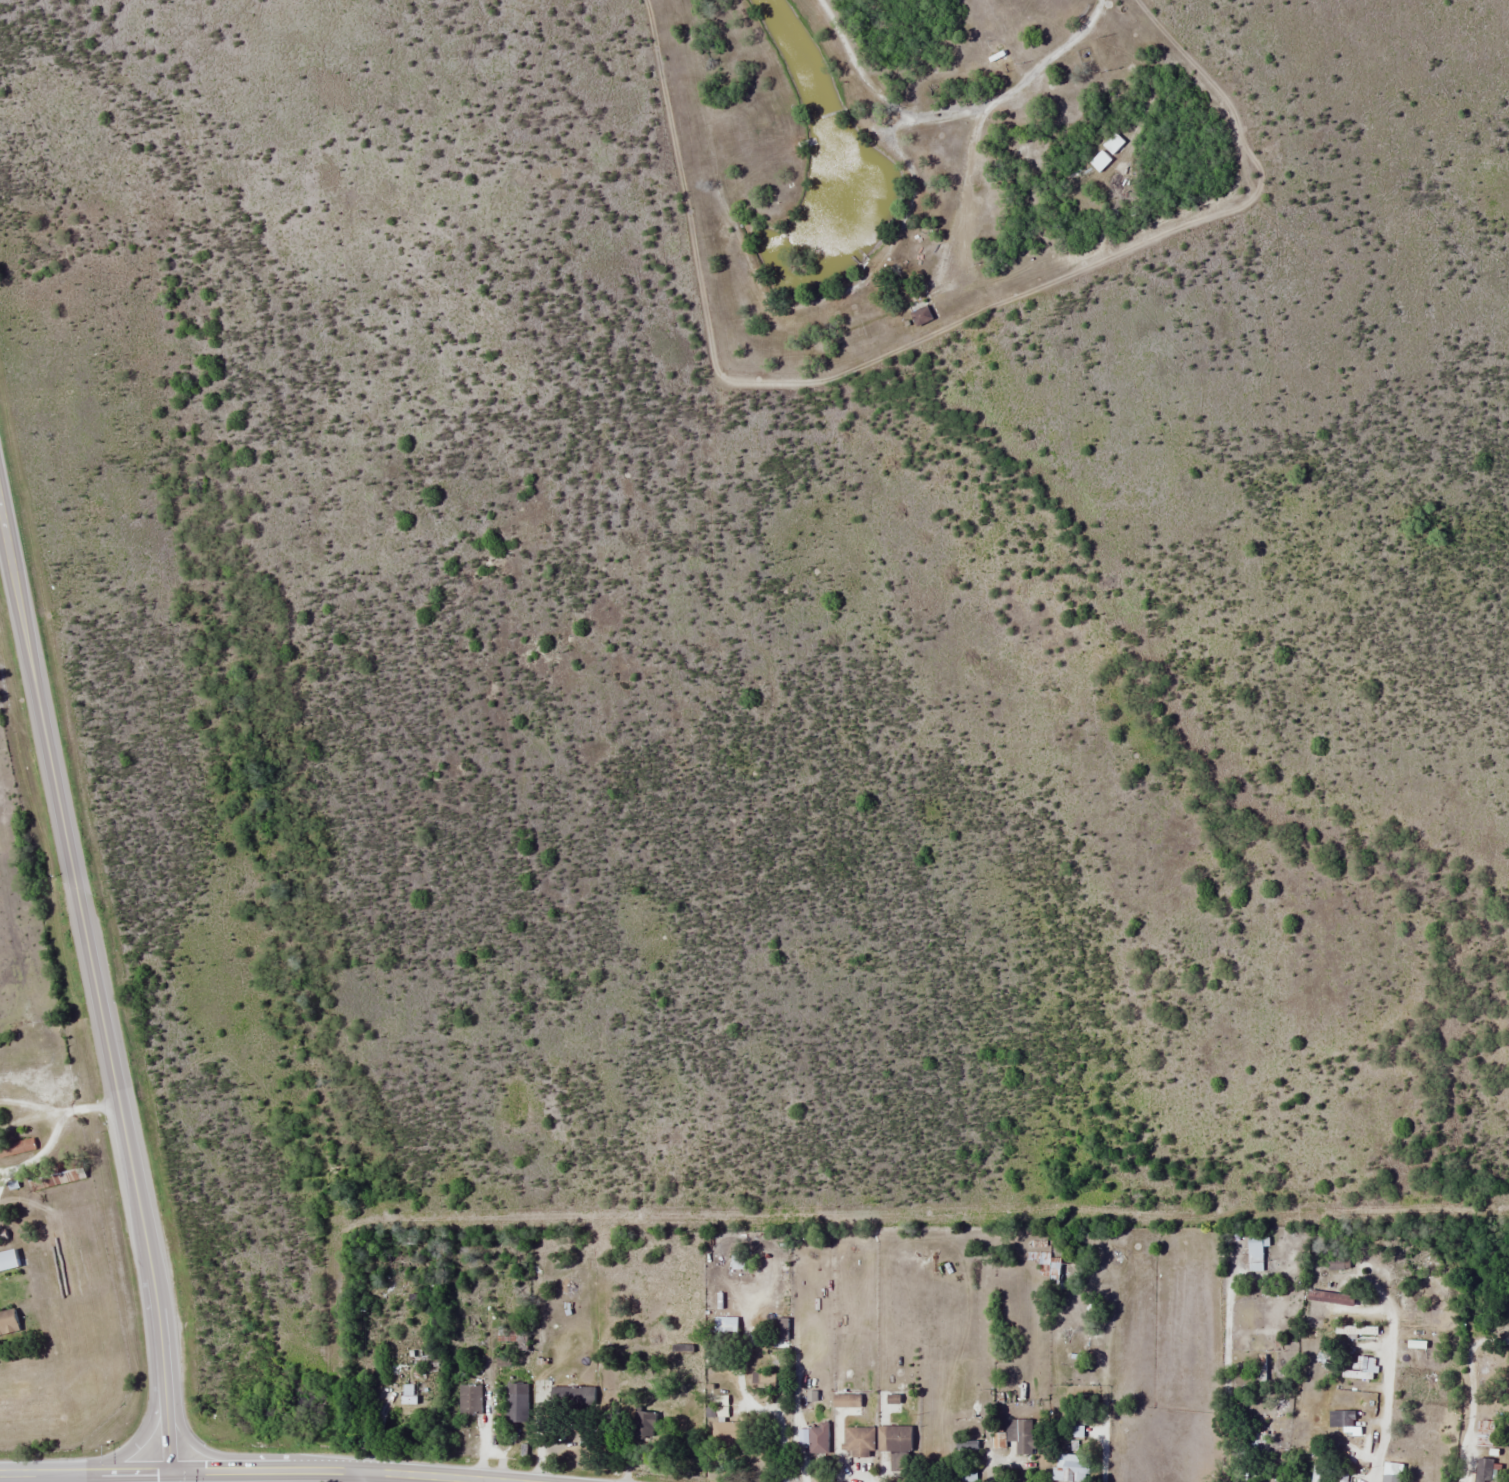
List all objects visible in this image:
building: (1113, 143)
building: (1099, 160)
building: (924, 315)
road: (96, 985)
building: (73, 1170)
building: (1255, 1252)
building: (1055, 1273)
building: (1313, 1309)
building: (9, 1321)
building: (724, 1328)
building: (779, 1329)
building: (1354, 1329)
building: (1368, 1364)
building: (571, 1395)
building: (469, 1399)
building: (516, 1402)
road: (156, 1403)
building: (1339, 1419)
building: (644, 1424)
building: (1020, 1434)
building: (814, 1437)
building: (858, 1441)
road: (197, 1446)
building: (897, 1446)
building: (1066, 1468)
building: (1484, 1469)
road: (254, 1471)
building: (1314, 1474)
road: (362, 1477)
building: (1343, 1477)
building: (1389, 1478)

